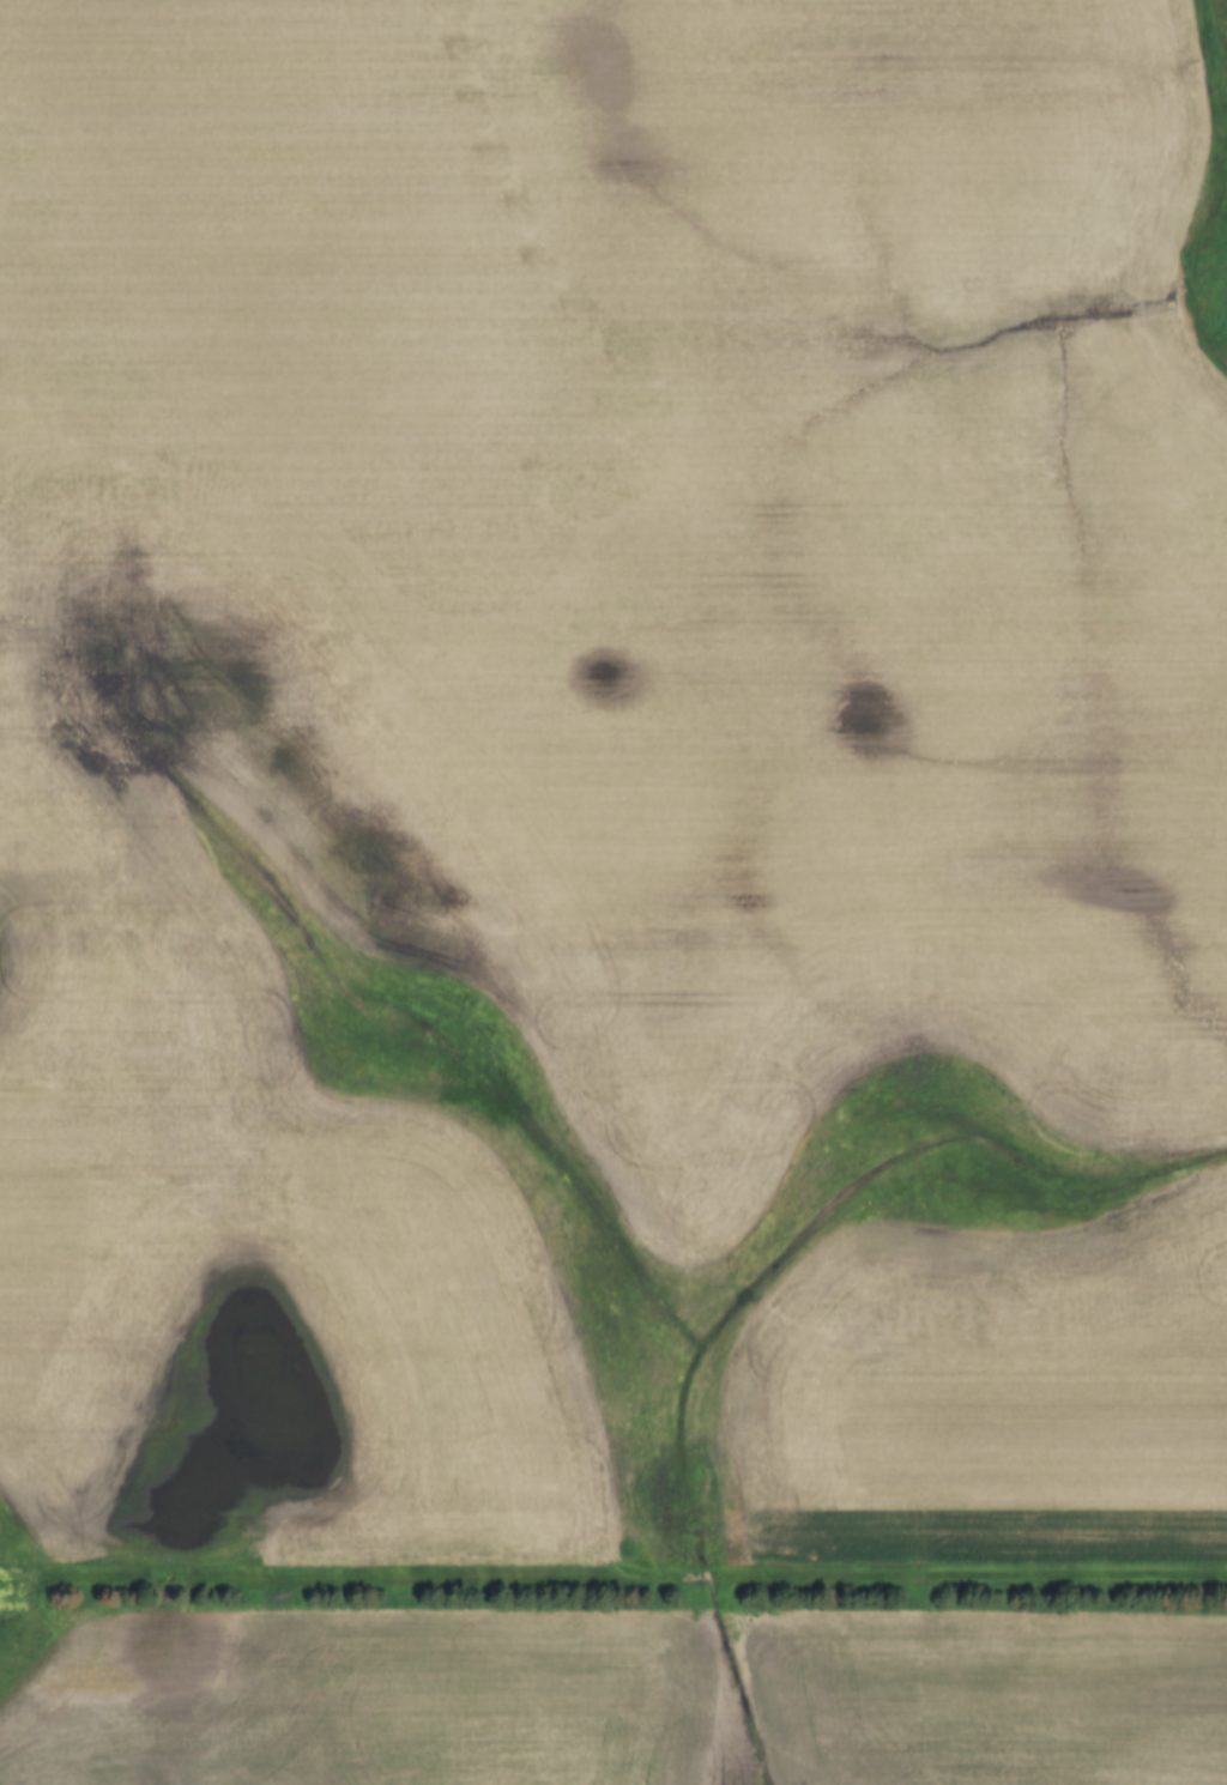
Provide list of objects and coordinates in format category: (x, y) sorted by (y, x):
road: (612, 1607)

